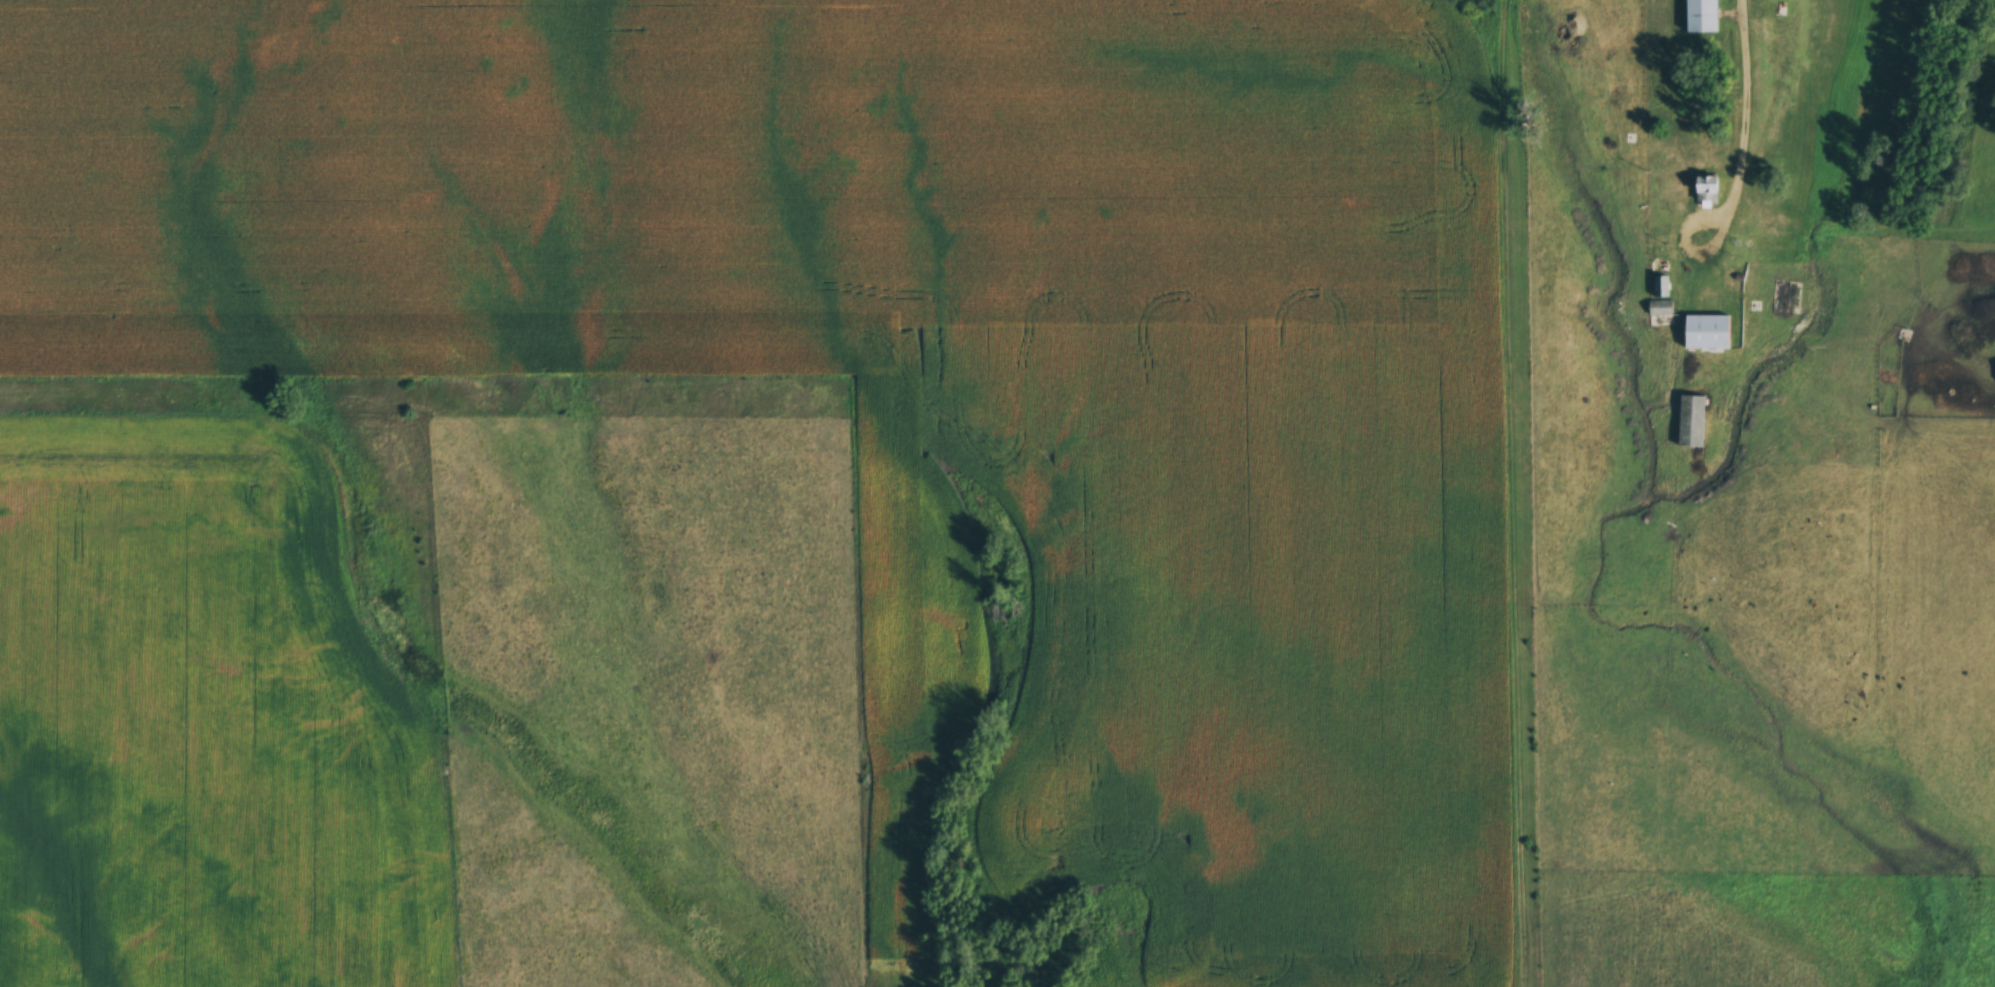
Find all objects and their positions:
building: (1699, 17)
building: (1705, 191)
building: (1655, 223)
building: (1779, 298)
building: (1704, 334)
building: (1688, 422)

